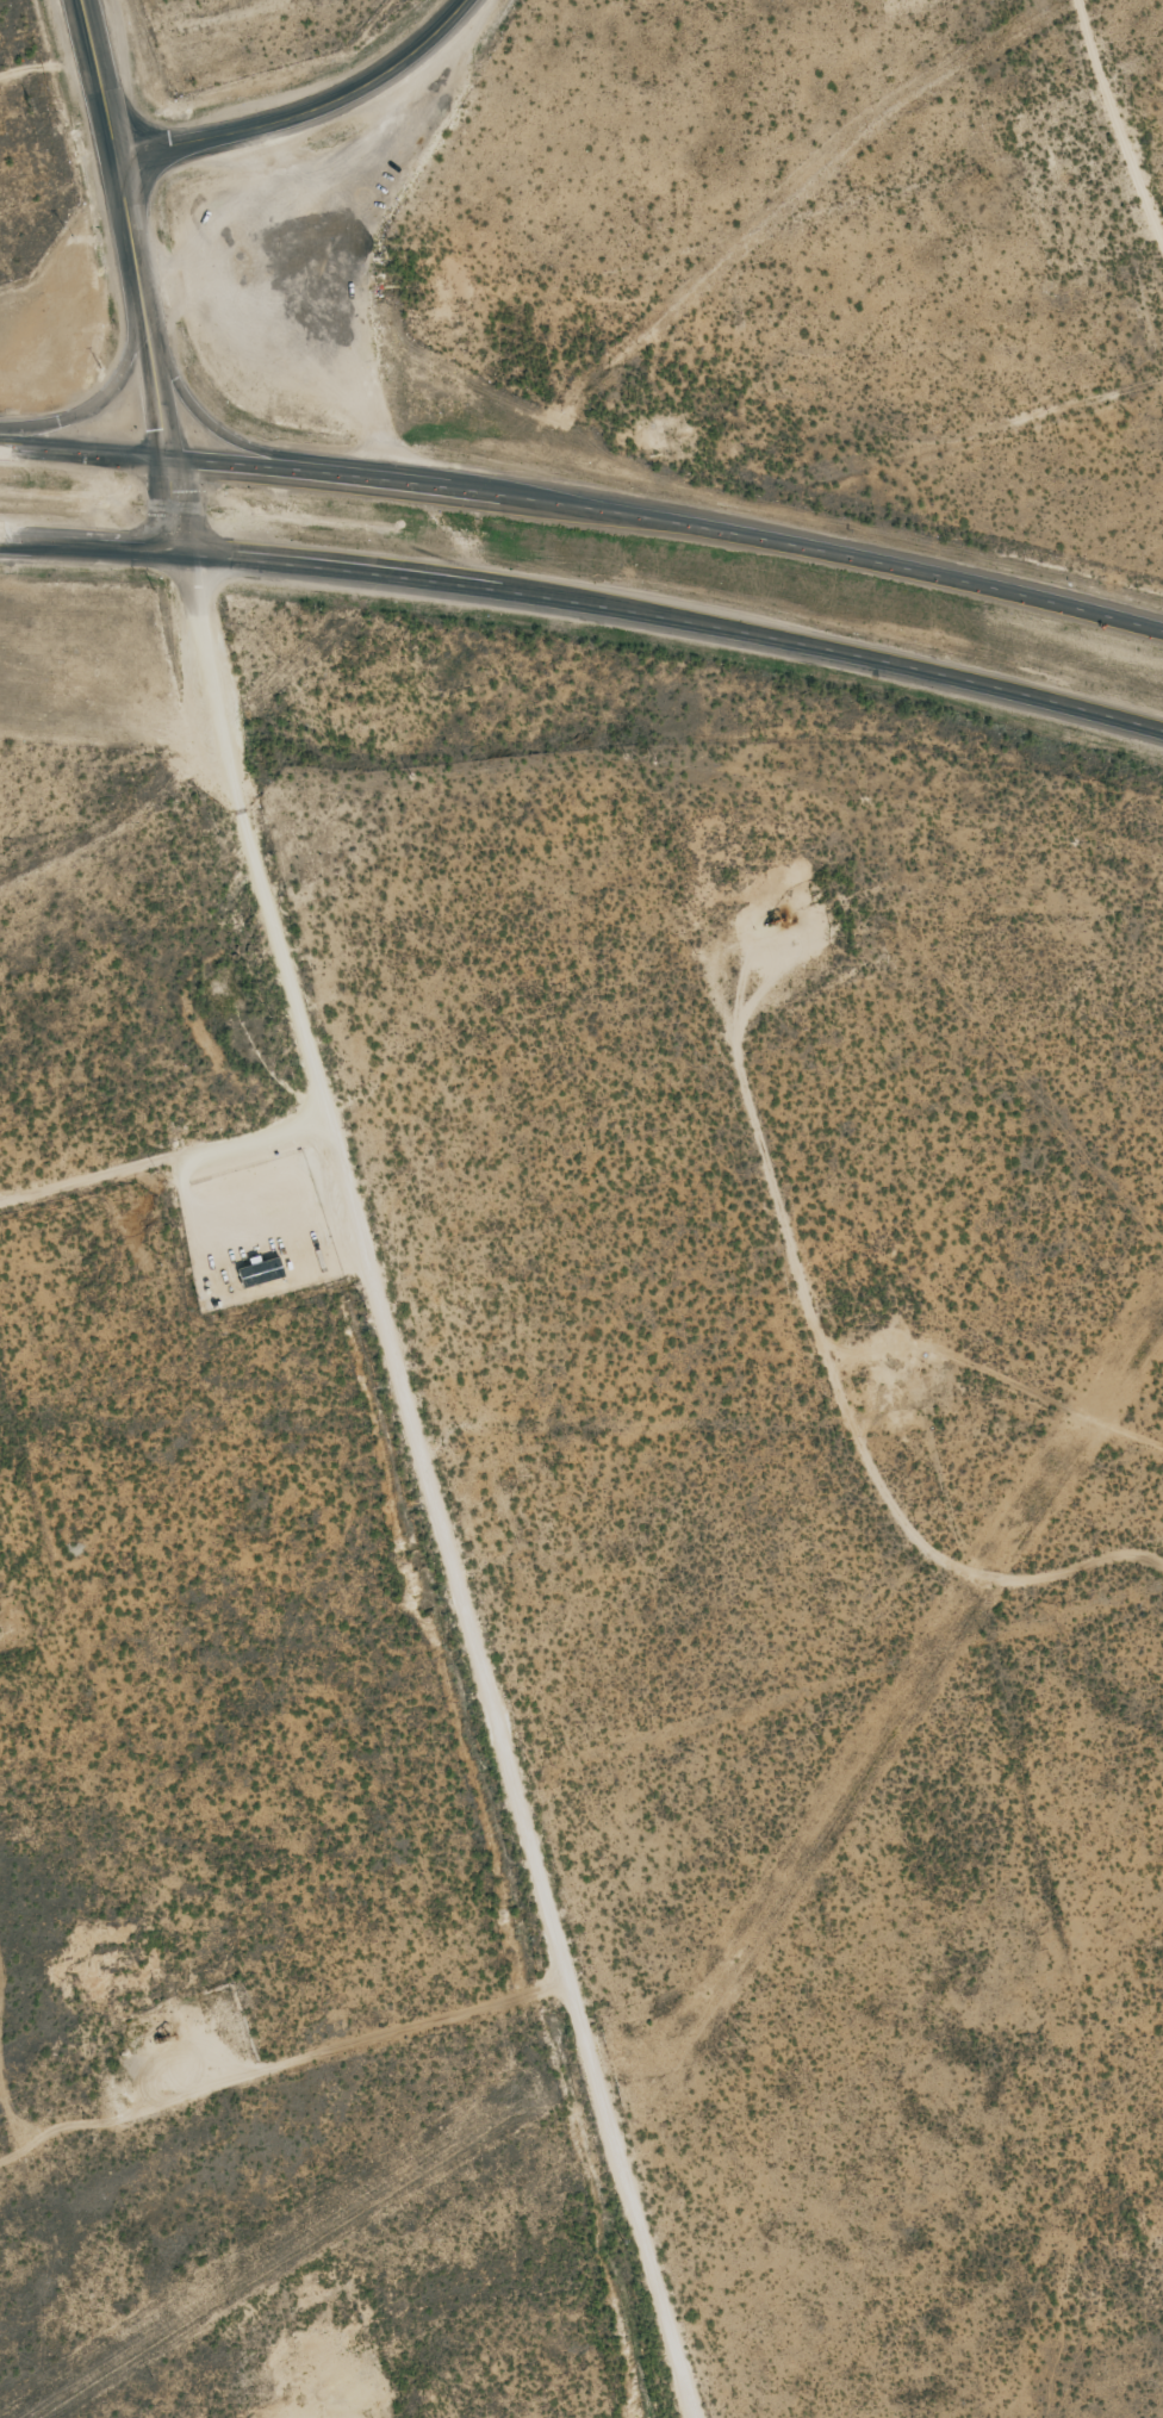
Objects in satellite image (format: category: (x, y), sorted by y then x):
road: (104, 79)
road: (311, 111)
road: (155, 354)
road: (105, 391)
road: (263, 443)
road: (586, 508)
road: (586, 602)
road: (150, 1229)
road: (375, 1488)

